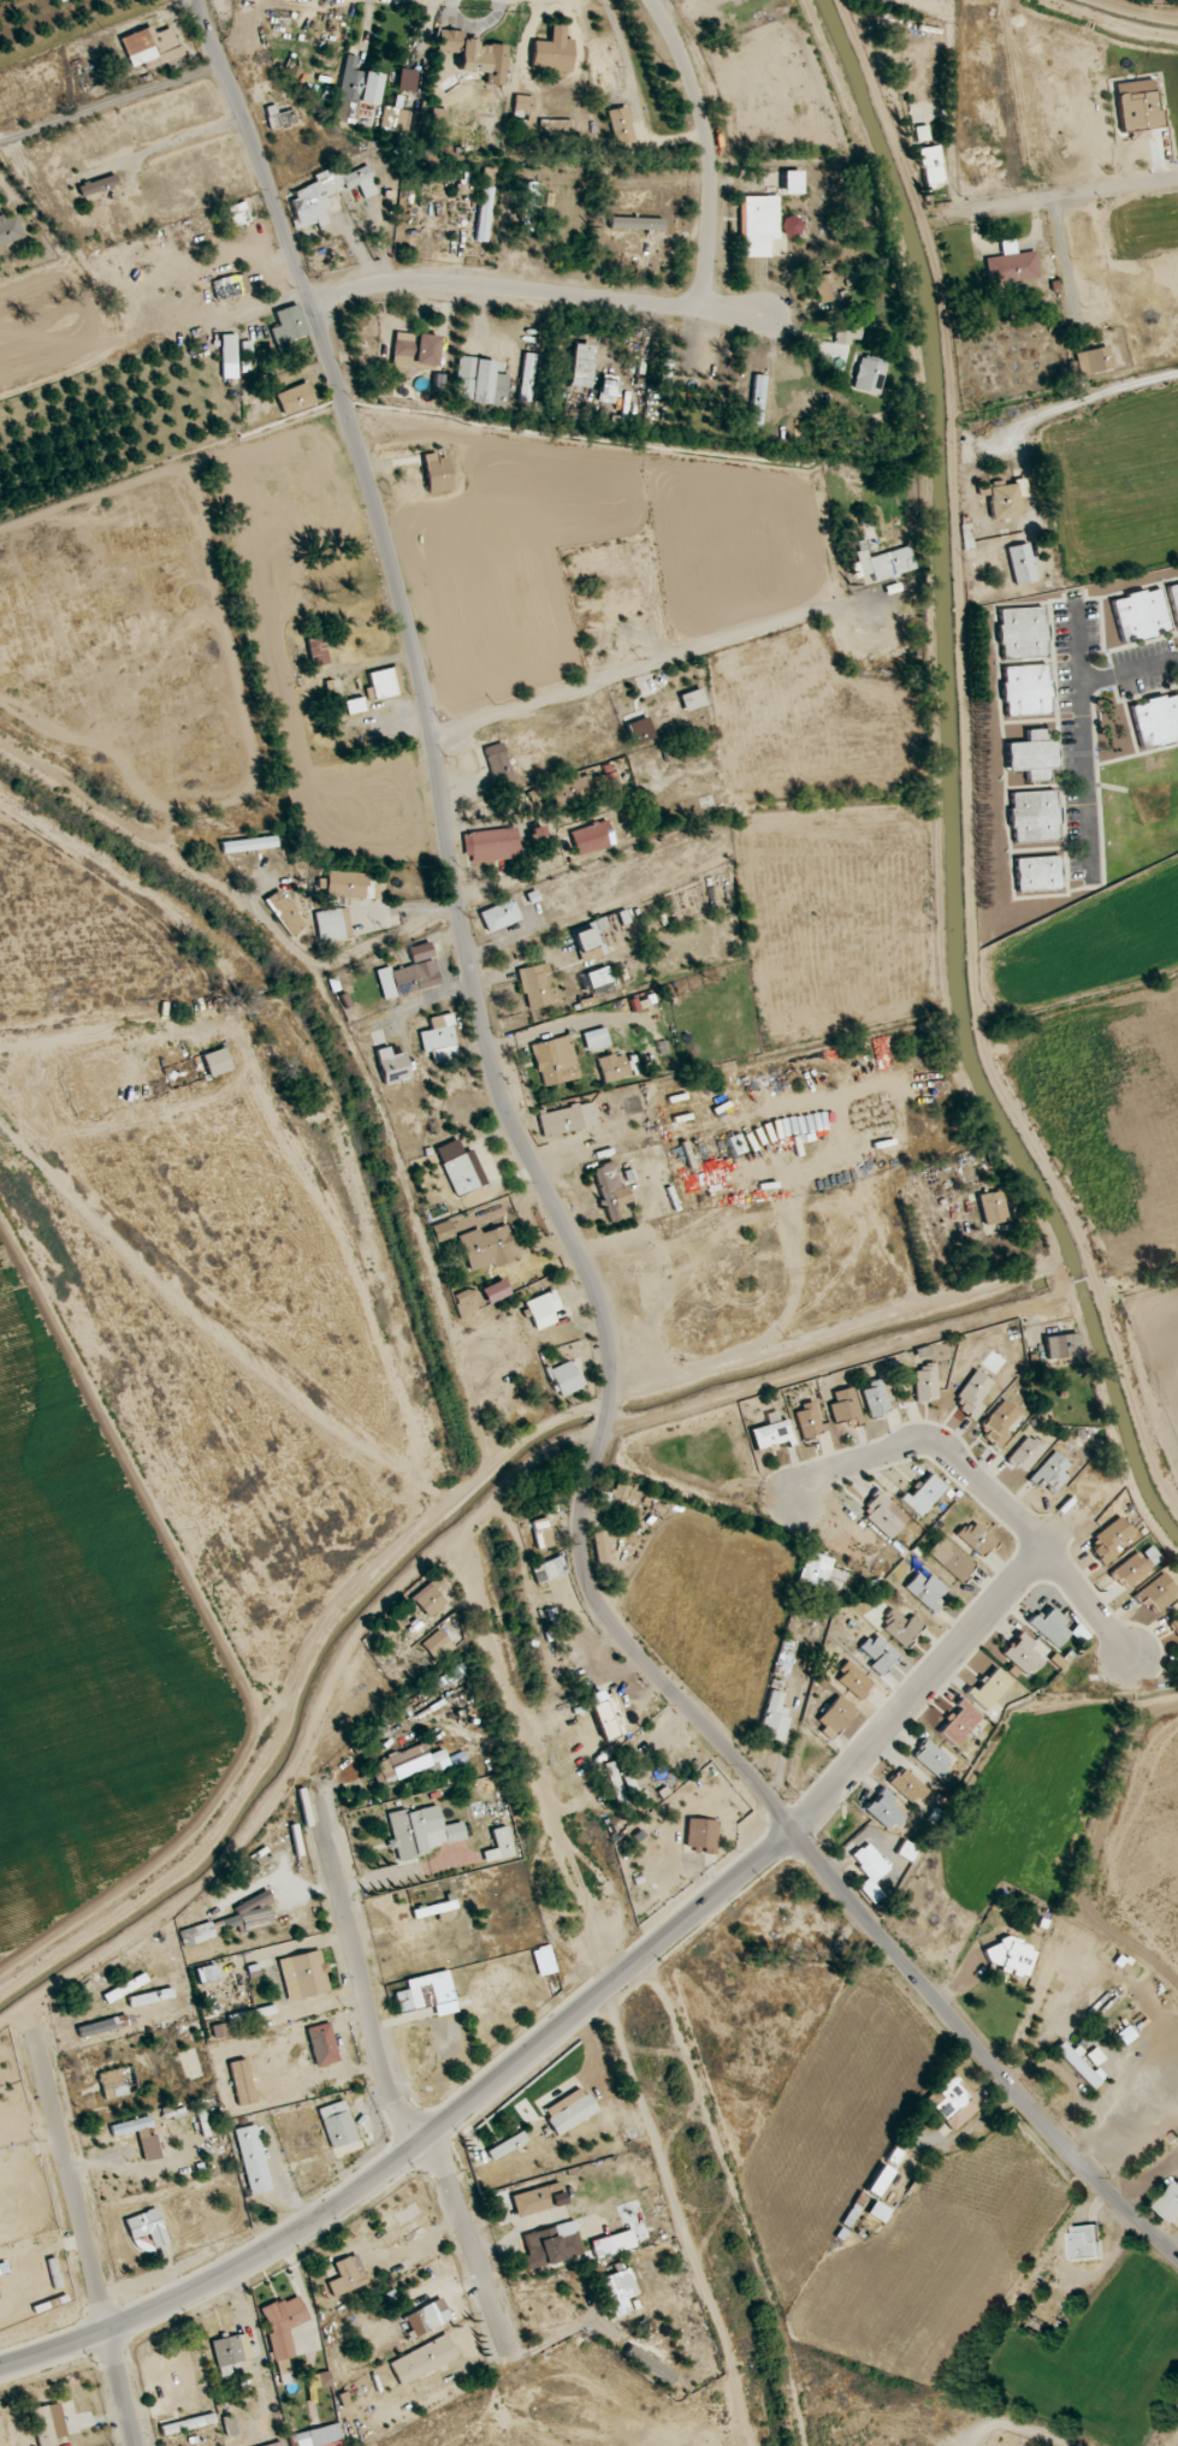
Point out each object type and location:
building: (60, 0)
road: (194, 6)
road: (26, 16)
road: (1032, 43)
building: (150, 47)
building: (552, 52)
building: (474, 55)
building: (407, 79)
building: (355, 90)
building: (523, 102)
building: (1138, 111)
building: (280, 119)
building: (395, 120)
building: (620, 125)
building: (922, 134)
road: (184, 135)
road: (706, 150)
building: (930, 166)
building: (792, 182)
building: (97, 185)
building: (325, 194)
road: (1064, 197)
building: (528, 206)
building: (238, 214)
building: (484, 214)
building: (635, 223)
building: (758, 224)
building: (792, 226)
building: (10, 230)
building: (1011, 265)
road: (1066, 271)
building: (230, 286)
building: (824, 288)
road: (538, 291)
building: (289, 325)
building: (847, 332)
building: (415, 350)
building: (229, 356)
building: (1093, 360)
building: (580, 366)
building: (665, 369)
building: (869, 374)
building: (526, 377)
building: (479, 383)
building: (608, 391)
building: (295, 398)
building: (757, 399)
building: (437, 474)
building: (1004, 497)
building: (884, 563)
building: (1022, 564)
building: (1173, 599)
building: (1141, 615)
building: (1023, 634)
building: (316, 651)
road: (673, 657)
road: (1132, 668)
building: (385, 682)
building: (1026, 689)
building: (692, 699)
building: (355, 705)
building: (1156, 721)
building: (640, 730)
building: (1032, 756)
building: (499, 766)
road: (1091, 776)
building: (686, 784)
building: (584, 788)
building: (1034, 816)
building: (538, 834)
building: (592, 837)
building: (249, 845)
building: (491, 845)
building: (1038, 873)
road: (503, 878)
building: (345, 884)
building: (284, 912)
building: (498, 916)
building: (332, 925)
building: (588, 936)
building: (408, 978)
building: (534, 987)
road: (693, 1023)
building: (440, 1038)
building: (596, 1038)
building: (555, 1061)
building: (217, 1062)
building: (391, 1066)
building: (612, 1067)
building: (567, 1119)
building: (460, 1174)
building: (610, 1190)
building: (991, 1208)
road: (560, 1218)
building: (443, 1231)
building: (487, 1248)
building: (495, 1291)
building: (468, 1302)
building: (541, 1308)
building: (1061, 1345)
building: (923, 1351)
building: (566, 1378)
building: (925, 1381)
building: (973, 1393)
building: (875, 1398)
building: (843, 1405)
building: (807, 1421)
building: (999, 1422)
building: (770, 1434)
building: (1026, 1452)
building: (1050, 1473)
road: (988, 1489)
building: (626, 1493)
building: (924, 1494)
road: (738, 1510)
building: (884, 1515)
building: (541, 1533)
building: (976, 1538)
building: (1111, 1539)
building: (600, 1547)
building: (951, 1558)
building: (1136, 1565)
building: (815, 1569)
building: (549, 1570)
building: (925, 1588)
building: (1111, 1593)
building: (1155, 1593)
building: (430, 1597)
building: (399, 1621)
building: (1176, 1623)
building: (900, 1627)
building: (1049, 1627)
building: (437, 1645)
building: (880, 1653)
building: (1023, 1654)
building: (446, 1677)
road: (927, 1678)
building: (854, 1681)
building: (989, 1688)
building: (606, 1714)
building: (834, 1716)
building: (774, 1717)
building: (958, 1723)
building: (933, 1760)
building: (408, 1764)
building: (622, 1783)
building: (907, 1785)
building: (883, 1810)
building: (422, 1830)
building: (702, 1835)
building: (906, 1850)
building: (870, 1861)
building: (428, 1911)
building: (248, 1915)
building: (196, 1935)
building: (1011, 1956)
building: (544, 1960)
building: (303, 1976)
building: (427, 1994)
building: (96, 2029)
building: (219, 2031)
building: (1125, 2035)
building: (321, 2044)
building: (1095, 2056)
building: (1077, 2065)
building: (241, 2083)
building: (112, 2084)
road: (390, 2084)
building: (953, 2102)
building: (569, 2110)
building: (337, 2124)
building: (140, 2136)
road: (422, 2140)
building: (507, 2145)
building: (251, 2158)
building: (880, 2180)
building: (538, 2199)
building: (1170, 2203)
building: (878, 2213)
building: (147, 2227)
building: (407, 2229)
road: (84, 2240)
building: (1085, 2243)
building: (612, 2244)
building: (551, 2245)
building: (347, 2275)
building: (618, 2291)
building: (428, 2316)
building: (283, 2324)
building: (230, 2352)
building: (422, 2359)
building: (650, 2364)
building: (324, 2379)
building: (48, 2424)
building: (187, 2424)
road: (1025, 2426)
building: (316, 2436)

